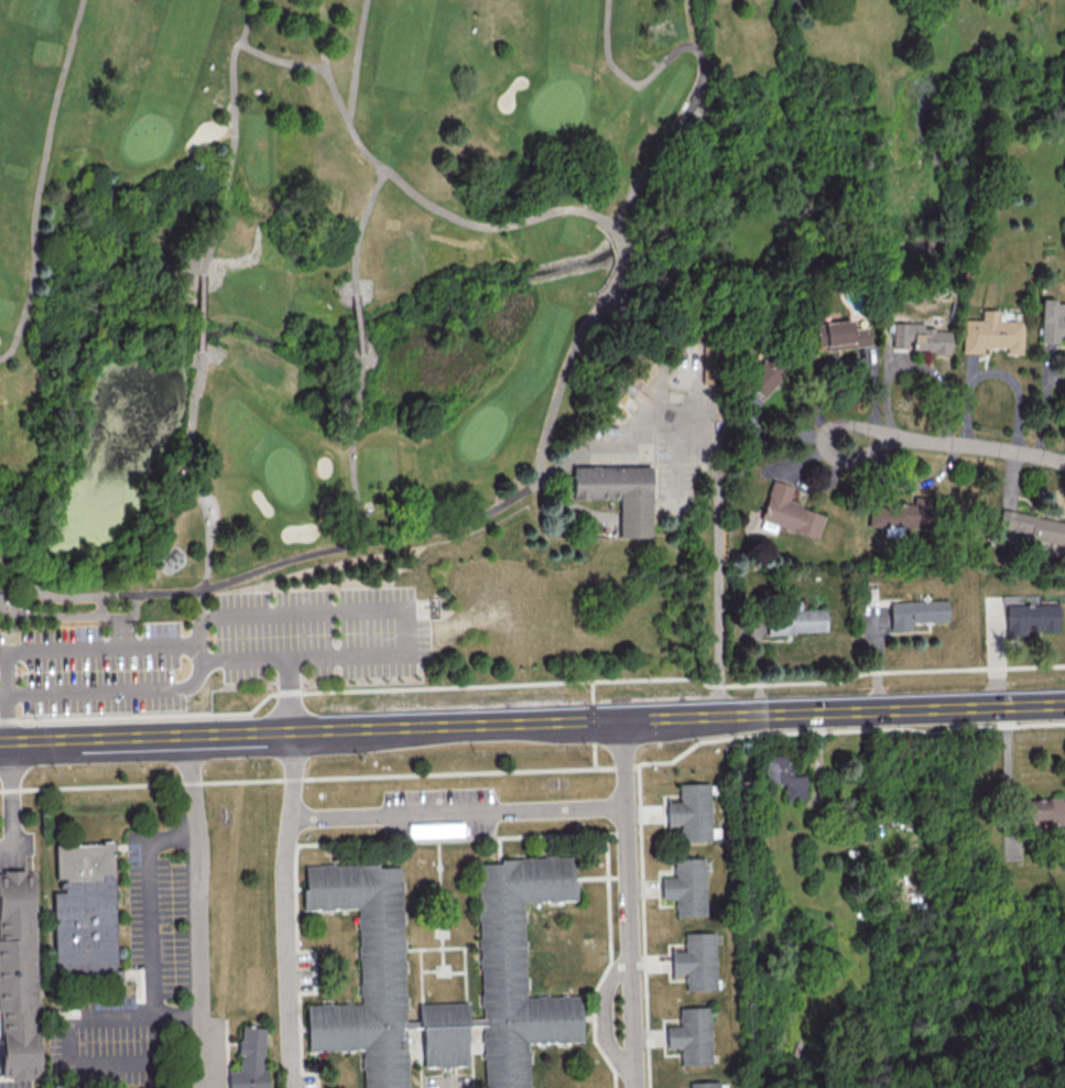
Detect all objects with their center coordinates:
road: (356, 61)
road: (280, 62)
road: (699, 62)
road: (232, 137)
road: (39, 182)
road: (410, 193)
road: (359, 229)
river: (595, 260)
road: (623, 263)
road: (204, 314)
building: (1050, 320)
road: (359, 324)
building: (989, 334)
building: (837, 335)
building: (915, 338)
building: (714, 353)
park: (359, 356)
road: (663, 361)
road: (836, 362)
road: (912, 366)
road: (995, 373)
building: (760, 378)
road: (558, 383)
road: (1043, 411)
road: (779, 438)
road: (957, 445)
road: (351, 456)
road: (568, 461)
road: (193, 486)
building: (622, 496)
road: (574, 509)
building: (787, 511)
building: (896, 515)
road: (716, 519)
building: (1031, 526)
road: (606, 527)
road: (357, 533)
road: (273, 566)
road: (9, 589)
road: (99, 606)
building: (915, 612)
road: (74, 617)
building: (1030, 618)
building: (795, 621)
road: (405, 622)
road: (118, 631)
road: (98, 644)
road: (197, 652)
parking lot: (215, 652)
road: (531, 683)
road: (591, 689)
road: (112, 692)
road: (290, 694)
road: (6, 695)
traffic signals: (621, 719)
road: (591, 720)
road: (532, 721)
road: (593, 755)
road: (536, 769)
building: (783, 776)
road: (11, 796)
road: (1007, 799)
building: (1042, 809)
building: (691, 812)
road: (457, 814)
building: (435, 829)
building: (685, 886)
road: (628, 903)
building: (83, 907)
road: (285, 909)
road: (197, 911)
building: (387, 951)
building: (696, 960)
building: (18, 978)
road: (178, 1016)
road: (143, 1018)
building: (691, 1035)
building: (249, 1059)
road: (446, 1082)
building: (704, 1084)

